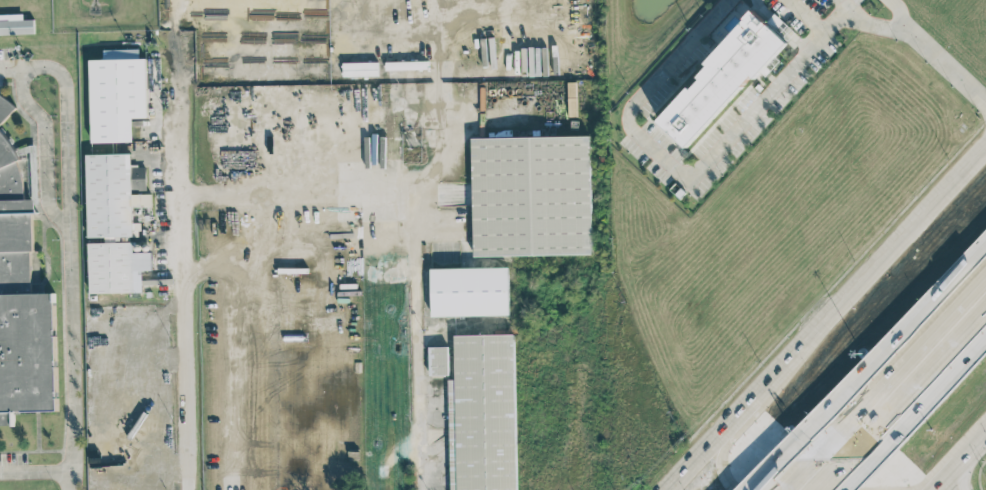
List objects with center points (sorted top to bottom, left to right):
road: (845, 4)
road: (901, 16)
building: (15, 24)
road: (170, 29)
road: (924, 41)
building: (721, 79)
building: (116, 94)
building: (5, 107)
road: (42, 144)
road: (456, 162)
road: (356, 166)
road: (684, 173)
building: (531, 195)
building: (113, 222)
road: (262, 245)
road: (67, 249)
road: (187, 275)
road: (873, 277)
building: (469, 291)
building: (22, 300)
road: (419, 331)
road: (912, 340)
building: (438, 360)
road: (929, 378)
building: (483, 413)
road: (739, 419)
road: (808, 455)
road: (960, 462)
road: (851, 464)
road: (694, 465)
road: (35, 470)
road: (962, 471)
building: (102, 474)
building: (123, 482)
road: (812, 486)

